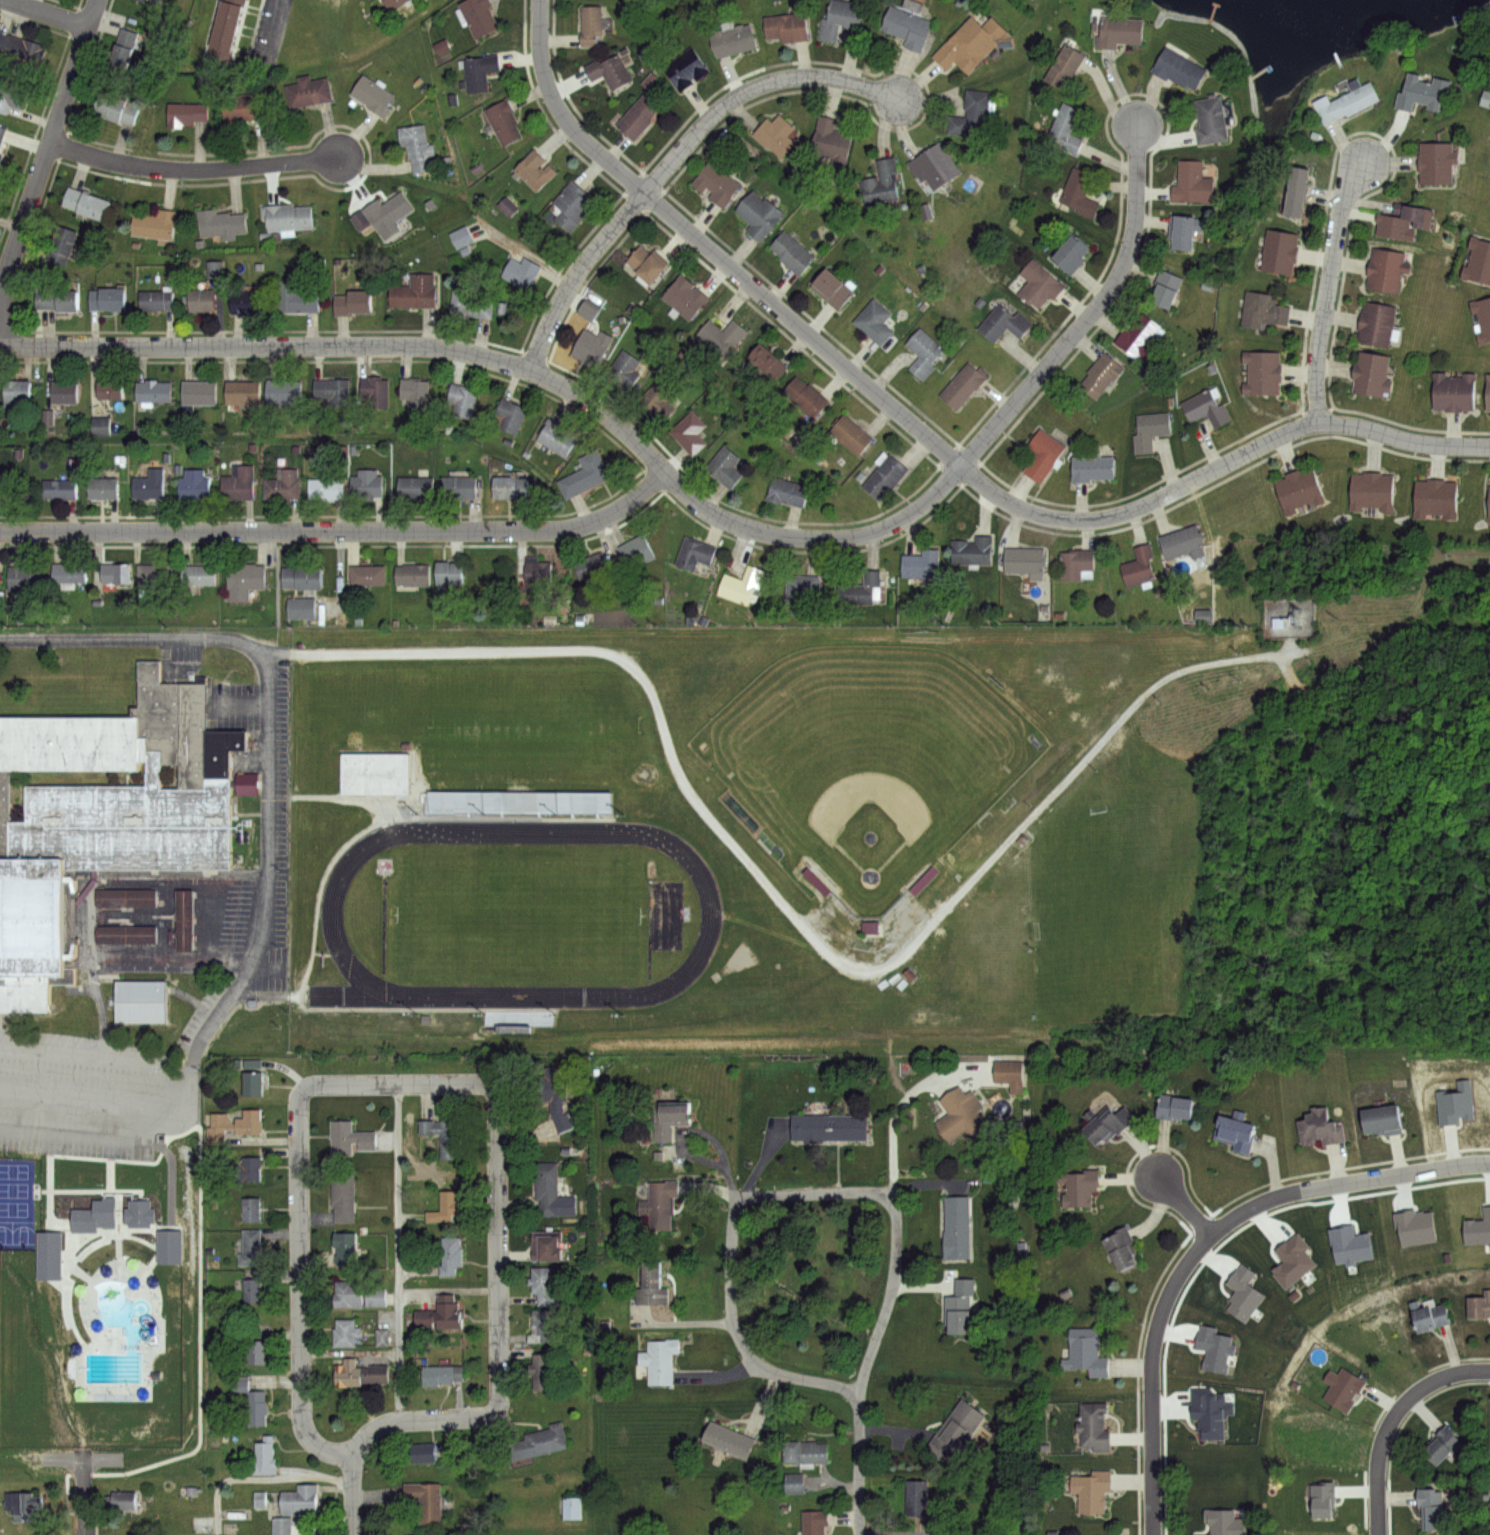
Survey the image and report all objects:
building: (138, 1)
building: (392, 5)
road: (44, 14)
building: (477, 17)
building: (839, 19)
building: (908, 23)
building: (594, 25)
road: (266, 27)
building: (786, 27)
building: (1119, 31)
building: (224, 32)
building: (732, 40)
building: (970, 44)
building: (21, 52)
building: (122, 52)
building: (1064, 66)
building: (1179, 67)
building: (684, 68)
building: (479, 71)
building: (609, 71)
road: (752, 90)
building: (306, 91)
building: (1422, 91)
building: (12, 94)
building: (372, 96)
building: (1347, 102)
building: (108, 108)
building: (241, 109)
building: (971, 112)
building: (187, 113)
building: (637, 115)
building: (502, 120)
building: (1210, 121)
building: (1065, 129)
building: (1, 134)
building: (776, 134)
building: (830, 139)
building: (417, 147)
building: (1, 160)
road: (44, 160)
building: (1437, 163)
building: (933, 165)
building: (533, 169)
road: (194, 171)
building: (1, 178)
building: (1191, 183)
building: (716, 184)
building: (882, 184)
building: (1295, 192)
building: (1079, 193)
building: (88, 203)
building: (570, 204)
building: (506, 206)
building: (382, 214)
building: (760, 215)
building: (290, 219)
building: (1405, 221)
building: (224, 223)
building: (157, 226)
building: (1181, 232)
building: (460, 237)
building: (63, 244)
building: (1277, 251)
building: (791, 252)
road: (714, 254)
building: (1068, 254)
building: (1477, 262)
building: (645, 265)
building: (214, 270)
building: (521, 270)
building: (1385, 273)
road: (578, 276)
building: (1039, 285)
building: (1166, 289)
building: (831, 290)
road: (1327, 290)
building: (413, 292)
building: (683, 297)
building: (109, 298)
building: (299, 298)
building: (60, 299)
building: (160, 299)
building: (205, 300)
building: (249, 302)
building: (357, 302)
building: (472, 304)
building: (585, 309)
building: (1261, 309)
road: (1089, 314)
building: (1482, 319)
building: (874, 320)
building: (1002, 323)
building: (1375, 325)
building: (1137, 335)
building: (721, 337)
building: (590, 347)
building: (920, 355)
building: (767, 363)
road: (519, 367)
building: (624, 368)
building: (1261, 372)
building: (1101, 373)
building: (1371, 375)
building: (962, 385)
building: (113, 390)
building: (156, 390)
building: (335, 390)
building: (20, 391)
building: (287, 391)
building: (377, 391)
building: (1454, 391)
building: (246, 392)
building: (415, 392)
building: (68, 393)
building: (202, 393)
building: (1487, 393)
building: (804, 395)
building: (657, 399)
building: (462, 401)
building: (1204, 408)
building: (510, 414)
building: (97, 426)
building: (1149, 430)
building: (689, 432)
building: (850, 434)
building: (556, 438)
building: (1043, 454)
building: (724, 465)
building: (1091, 466)
road: (1218, 466)
building: (583, 476)
building: (883, 476)
building: (196, 483)
building: (240, 483)
building: (152, 485)
building: (285, 485)
building: (368, 485)
building: (328, 487)
building: (458, 487)
building: (508, 487)
building: (3, 488)
building: (106, 488)
building: (416, 488)
building: (61, 489)
building: (1299, 489)
building: (1369, 490)
building: (788, 492)
building: (1434, 497)
building: (1489, 504)
road: (340, 532)
building: (1181, 542)
building: (634, 550)
building: (973, 550)
building: (691, 554)
building: (1026, 562)
building: (921, 564)
building: (1076, 565)
building: (1138, 565)
building: (590, 566)
building: (446, 573)
building: (71, 574)
building: (155, 574)
building: (199, 574)
building: (118, 575)
building: (368, 575)
building: (536, 575)
building: (413, 576)
building: (305, 578)
building: (26, 579)
building: (247, 581)
building: (742, 587)
building: (800, 589)
building: (862, 589)
building: (304, 608)
road: (244, 706)
road: (265, 748)
park: (865, 763)
building: (375, 774)
building: (519, 798)
building: (104, 813)
building: (922, 882)
building: (123, 898)
road: (783, 903)
track: (328, 914)
park: (516, 915)
building: (181, 920)
building: (868, 928)
building: (122, 934)
building: (136, 1001)
building: (518, 1011)
building: (1010, 1075)
road: (458, 1083)
building: (255, 1084)
road: (86, 1097)
road: (177, 1098)
building: (557, 1102)
building: (1455, 1103)
road: (900, 1106)
building: (1174, 1110)
building: (962, 1118)
building: (666, 1120)
building: (1380, 1120)
building: (251, 1124)
building: (1104, 1126)
building: (828, 1128)
building: (1321, 1128)
road: (706, 1135)
building: (1235, 1135)
building: (349, 1136)
building: (443, 1138)
building: (247, 1171)
road: (1407, 1175)
building: (1077, 1184)
building: (551, 1192)
building: (343, 1195)
building: (660, 1202)
building: (445, 1206)
road: (1185, 1207)
building: (252, 1210)
road: (734, 1210)
road: (148, 1214)
building: (956, 1226)
building: (1414, 1226)
building: (1477, 1227)
building: (1349, 1244)
building: (254, 1246)
building: (345, 1246)
building: (547, 1246)
building: (1119, 1248)
road: (399, 1252)
building: (442, 1259)
building: (1293, 1259)
building: (649, 1284)
building: (543, 1286)
building: (255, 1289)
building: (1243, 1291)
road: (450, 1292)
building: (349, 1294)
building: (376, 1295)
building: (1478, 1305)
building: (68, 1307)
building: (961, 1307)
building: (1428, 1312)
building: (439, 1314)
road: (1162, 1315)
building: (546, 1324)
building: (344, 1331)
building: (381, 1336)
building: (1215, 1347)
building: (257, 1351)
building: (1086, 1352)
road: (351, 1353)
road: (99, 1359)
building: (659, 1360)
building: (347, 1372)
building: (542, 1372)
building: (378, 1373)
building: (440, 1374)
building: (1343, 1387)
building: (258, 1408)
building: (1212, 1412)
road: (1392, 1421)
building: (1094, 1425)
building: (955, 1427)
building: (728, 1438)
building: (537, 1442)
building: (1441, 1443)
building: (806, 1451)
building: (420, 1453)
building: (268, 1460)
road: (859, 1464)
road: (83, 1477)
road: (259, 1479)
building: (793, 1483)
building: (1092, 1489)
road: (352, 1497)
building: (125, 1498)
building: (1322, 1498)
building: (919, 1500)
building: (424, 1501)
building: (27, 1504)
building: (299, 1506)
building: (569, 1508)
building: (1431, 1508)
building: (815, 1520)
building: (1223, 1523)

